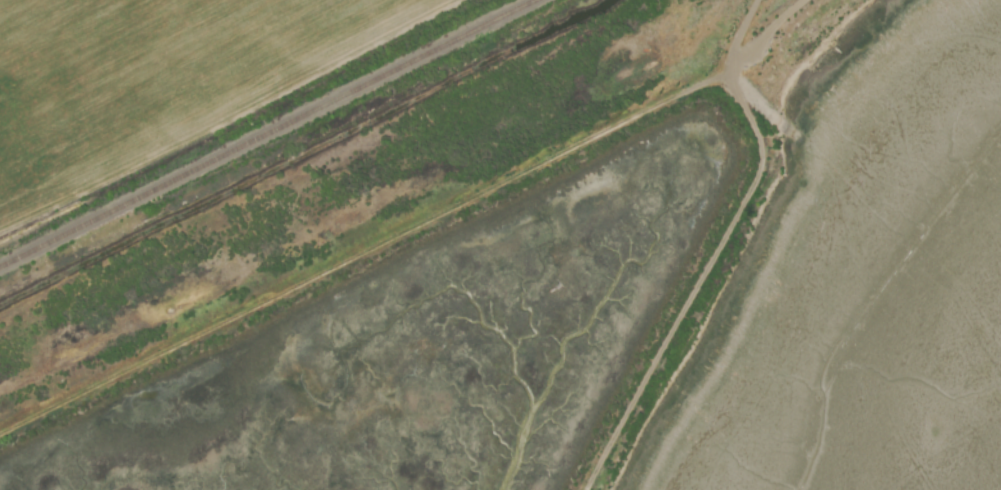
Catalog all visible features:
road: (745, 21)
road: (773, 24)
railway: (268, 133)
road: (376, 247)
road: (698, 281)

